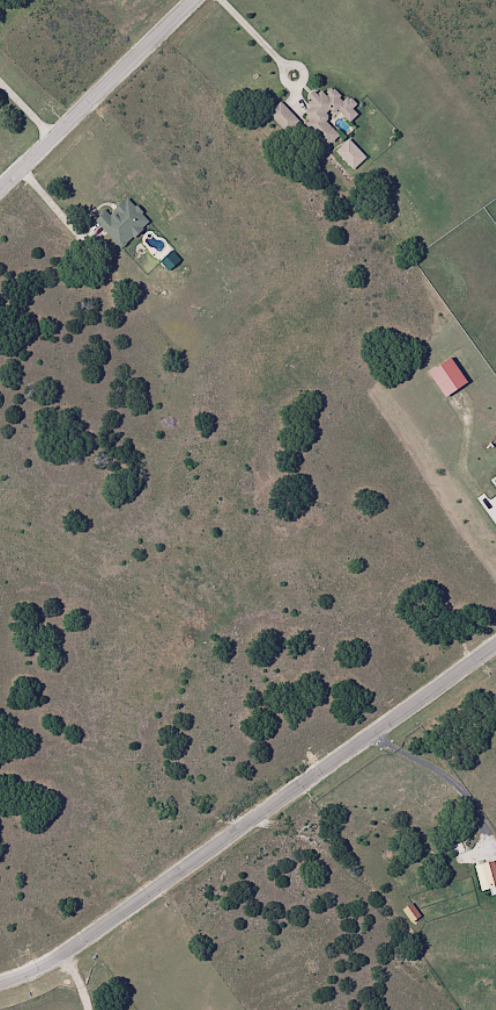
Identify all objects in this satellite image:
road: (99, 96)
building: (329, 111)
road: (26, 113)
building: (287, 117)
building: (353, 155)
building: (124, 222)
building: (171, 259)
building: (450, 377)
road: (491, 504)
road: (445, 778)
road: (252, 825)
building: (487, 876)
road: (87, 982)

